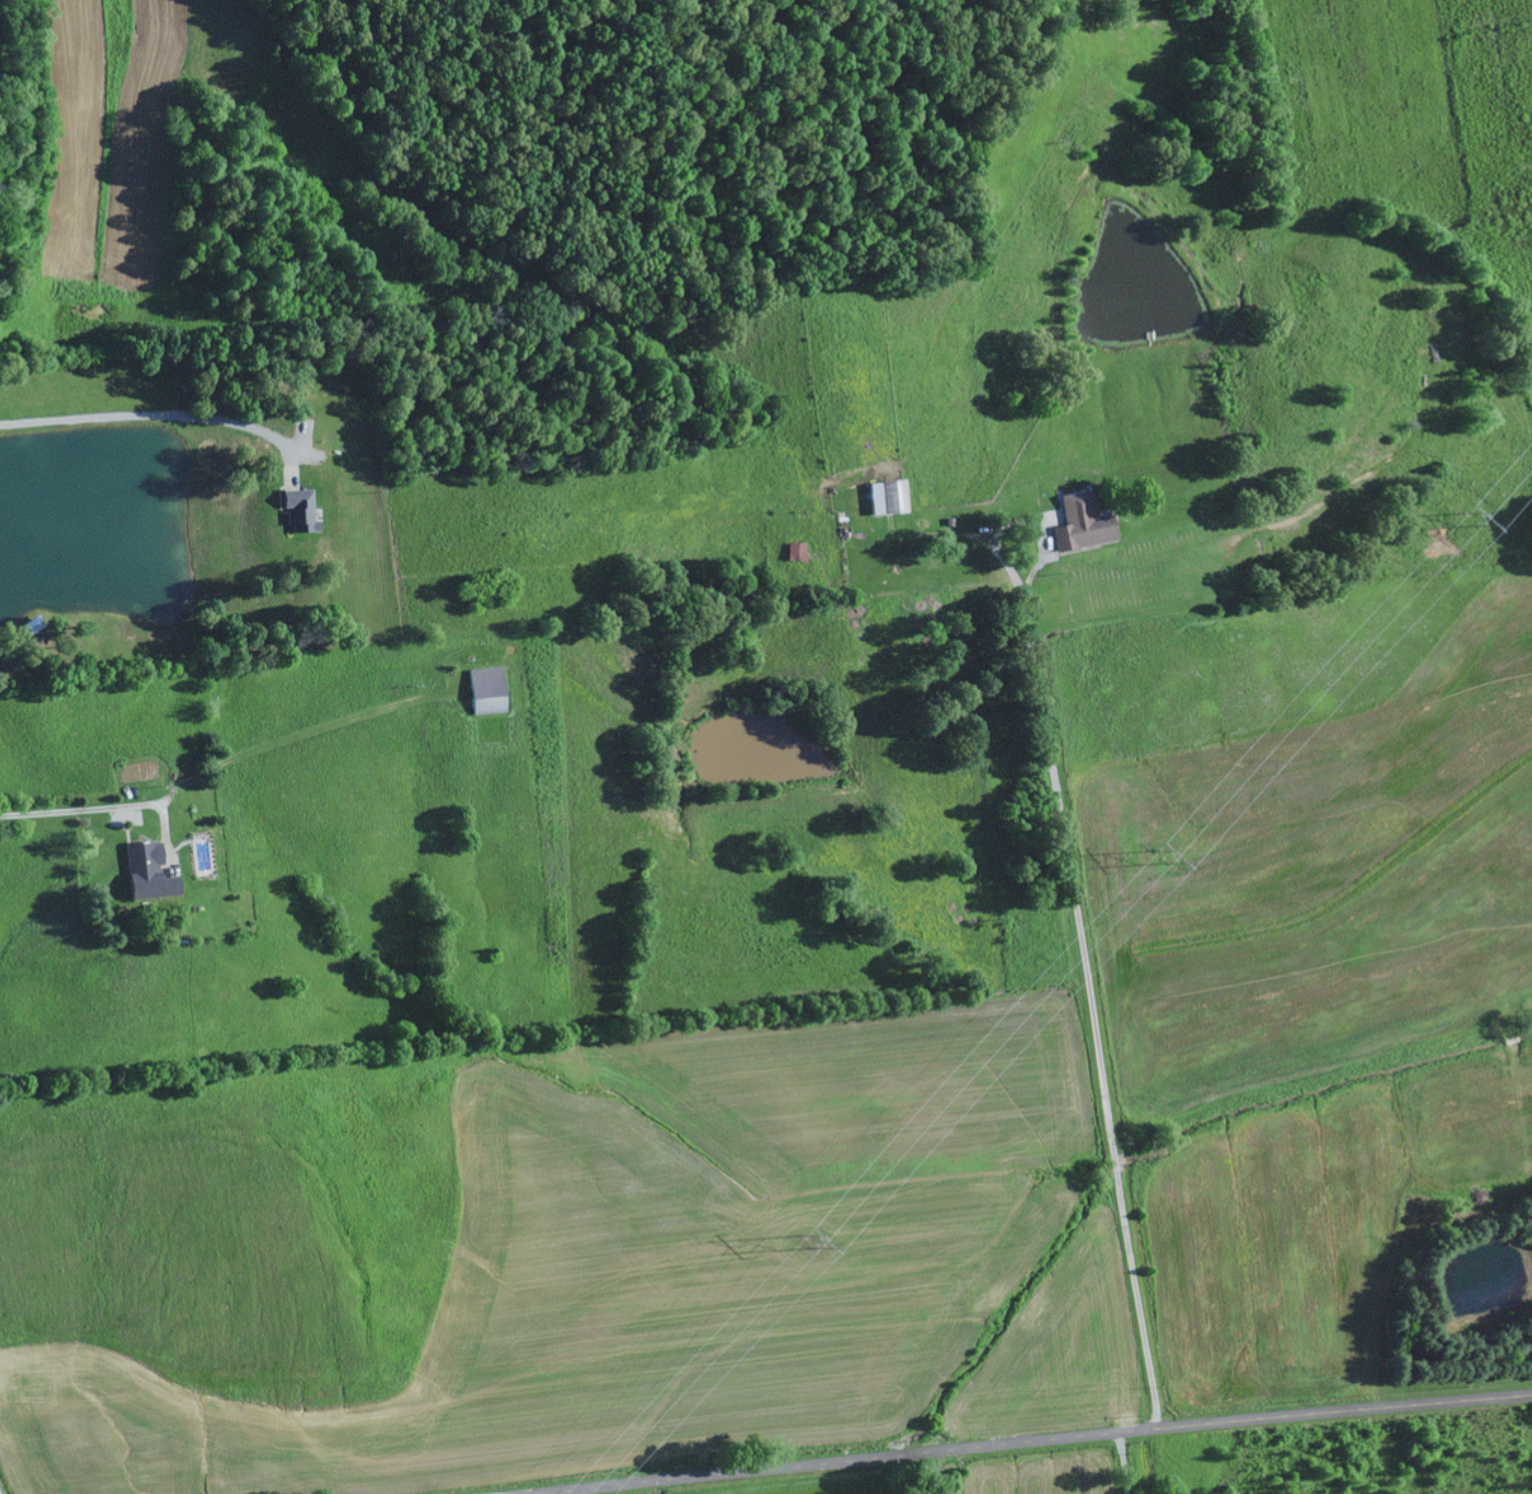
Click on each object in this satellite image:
building: (299, 512)
power tower: (1477, 514)
building: (1081, 525)
building: (796, 552)
building: (487, 691)
power tower: (1168, 853)
building: (147, 873)
road: (1088, 1013)
power tower: (812, 1240)
road: (1043, 1441)

